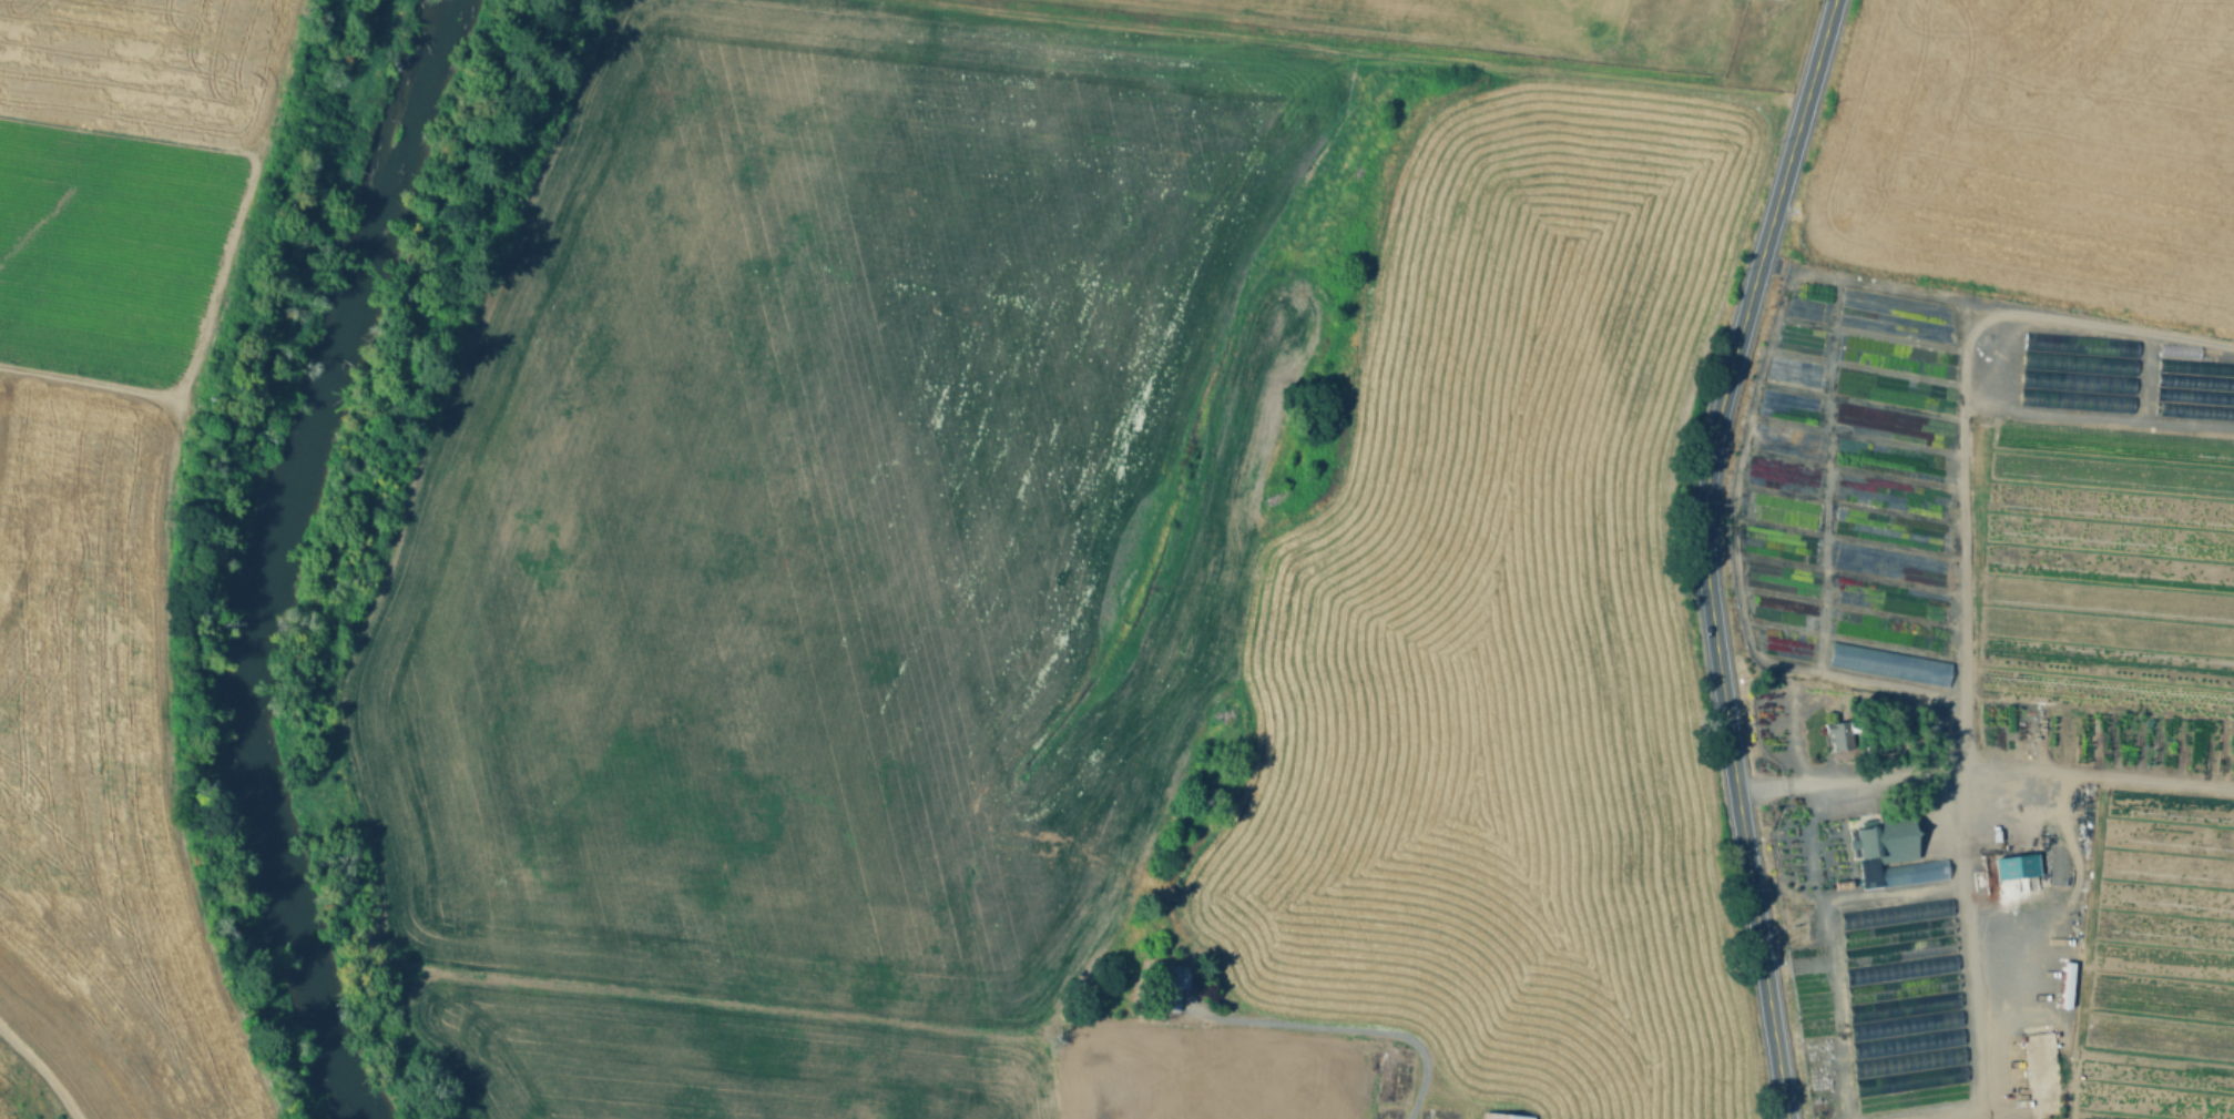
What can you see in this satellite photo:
crop: (1445, 19)
crop: (2032, 152)
crop: (127, 179)
crop: (1192, 293)
road: (2011, 314)
crop: (800, 526)
road: (1968, 546)
road: (1705, 553)
river: (259, 557)
road: (1733, 557)
crop: (1523, 649)
building: (1887, 663)
building: (1838, 735)
road: (2099, 774)
crop: (99, 782)
road: (1793, 785)
building: (1891, 836)
building: (2013, 865)
road: (1968, 895)
road: (1829, 949)
building: (1177, 985)
building: (1900, 996)
road: (1344, 1028)
crop: (704, 1057)
building: (1503, 1116)

